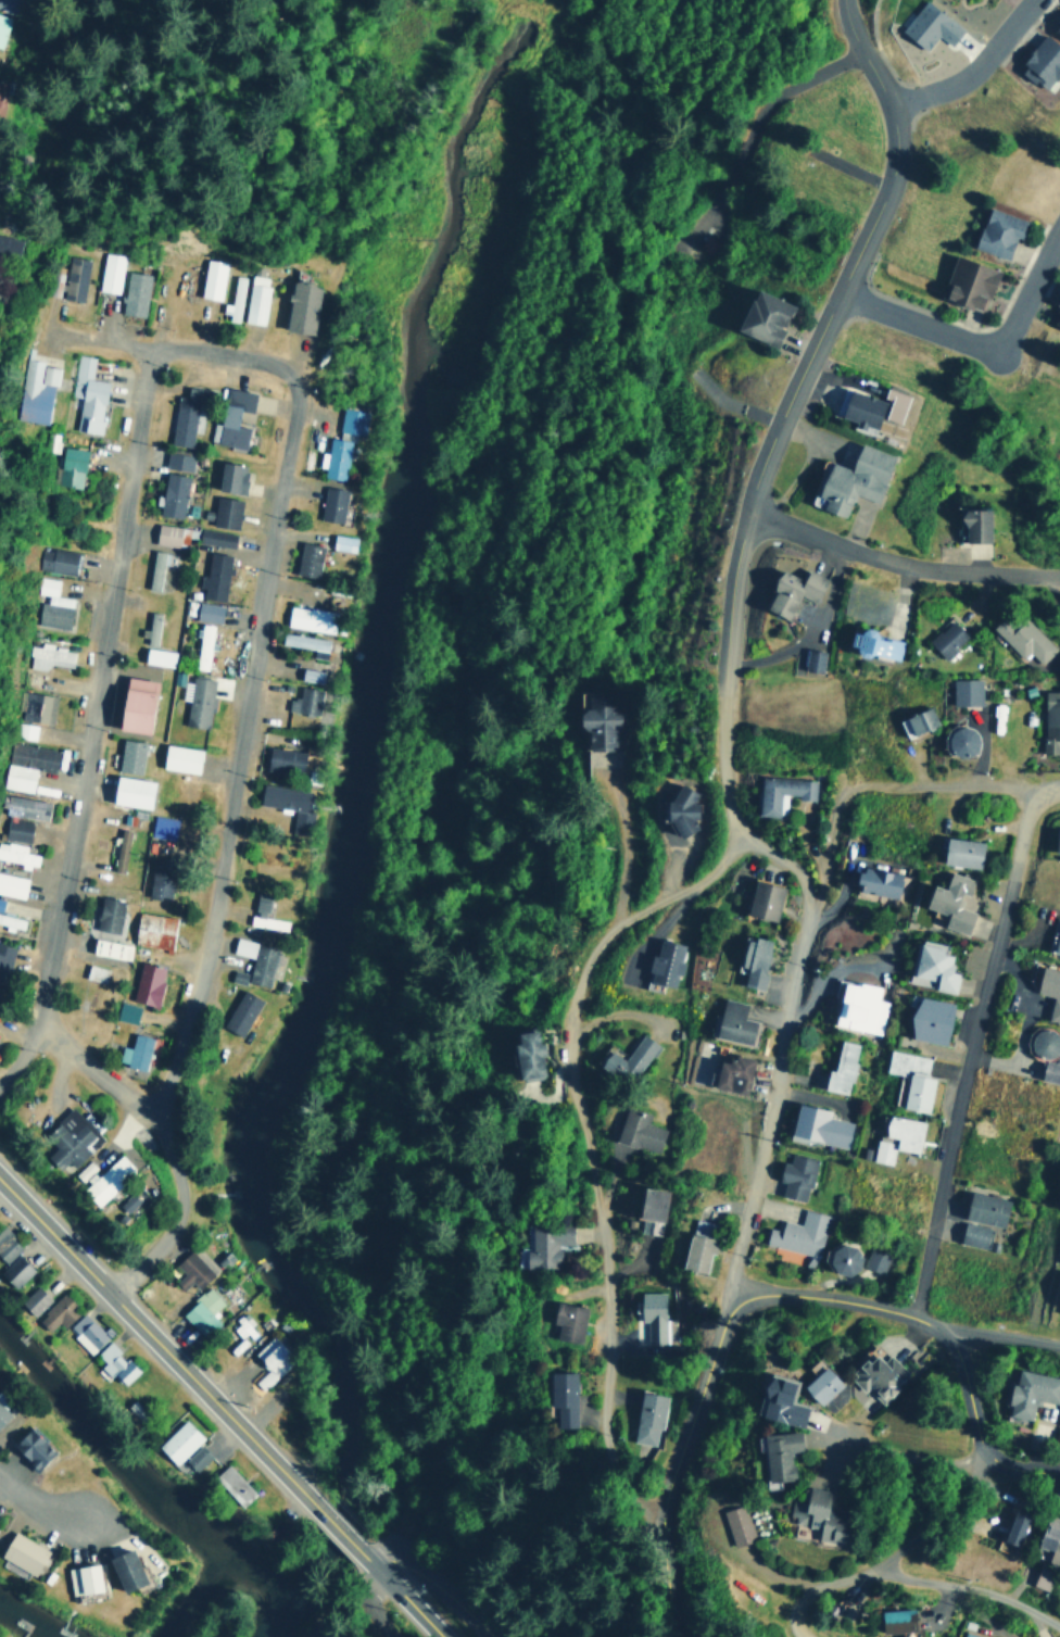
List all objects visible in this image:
building: (9, 5)
building: (1, 18)
building: (927, 24)
building: (1056, 25)
road: (873, 51)
building: (1040, 61)
road: (976, 66)
building: (996, 230)
building: (5, 243)
building: (110, 272)
building: (68, 278)
building: (212, 278)
building: (966, 281)
building: (132, 292)
building: (255, 298)
building: (234, 299)
building: (1057, 300)
building: (299, 305)
road: (836, 307)
building: (761, 316)
building: (1057, 319)
road: (979, 339)
road: (168, 353)
building: (33, 390)
building: (86, 394)
building: (868, 407)
building: (185, 415)
building: (230, 417)
building: (351, 420)
building: (336, 457)
building: (176, 459)
building: (70, 465)
building: (229, 476)
building: (850, 478)
building: (171, 494)
building: (331, 503)
building: (224, 511)
building: (973, 524)
building: (164, 533)
building: (214, 537)
building: (341, 542)
building: (306, 558)
building: (54, 559)
road: (903, 562)
building: (154, 568)
building: (213, 575)
building: (791, 590)
road: (730, 602)
building: (51, 604)
building: (206, 612)
building: (310, 617)
building: (150, 627)
building: (1022, 637)
building: (945, 638)
building: (305, 642)
building: (874, 643)
building: (202, 645)
building: (47, 655)
building: (156, 656)
building: (812, 659)
building: (310, 673)
building: (964, 691)
building: (195, 700)
building: (303, 700)
building: (132, 703)
building: (36, 706)
building: (916, 720)
building: (1050, 721)
road: (91, 723)
building: (598, 723)
building: (24, 730)
building: (958, 741)
building: (128, 754)
building: (178, 757)
building: (282, 758)
building: (24, 764)
road: (872, 786)
road: (1045, 786)
building: (129, 790)
building: (781, 792)
building: (288, 803)
building: (25, 806)
building: (679, 808)
building: (161, 826)
building: (16, 828)
building: (1056, 842)
road: (222, 845)
building: (118, 848)
building: (960, 852)
building: (17, 854)
building: (875, 881)
building: (12, 884)
building: (157, 884)
building: (762, 899)
building: (0, 901)
building: (950, 901)
building: (106, 914)
building: (263, 916)
building: (11, 920)
building: (152, 930)
building: (1053, 935)
building: (109, 947)
building: (3, 957)
building: (752, 959)
building: (255, 960)
building: (664, 961)
building: (932, 966)
building: (146, 983)
building: (1049, 990)
building: (858, 1006)
building: (124, 1011)
building: (239, 1011)
building: (929, 1019)
building: (731, 1021)
building: (1040, 1041)
building: (132, 1050)
road: (975, 1052)
building: (526, 1054)
building: (627, 1059)
building: (840, 1067)
building: (1050, 1068)
building: (731, 1071)
road: (98, 1078)
building: (908, 1079)
road: (573, 1081)
road: (762, 1101)
building: (817, 1125)
building: (638, 1130)
building: (903, 1131)
building: (65, 1138)
building: (881, 1150)
building: (794, 1175)
building: (104, 1179)
building: (1059, 1186)
building: (124, 1202)
building: (651, 1202)
building: (984, 1208)
building: (798, 1233)
building: (973, 1234)
building: (5, 1244)
building: (544, 1244)
building: (696, 1245)
building: (840, 1258)
building: (874, 1259)
building: (13, 1270)
road: (87, 1270)
building: (189, 1270)
building: (33, 1299)
road: (843, 1305)
building: (200, 1310)
building: (55, 1312)
building: (651, 1314)
building: (567, 1321)
building: (85, 1331)
road: (1006, 1336)
building: (270, 1359)
building: (113, 1362)
building: (876, 1375)
building: (818, 1382)
building: (1030, 1392)
road: (968, 1395)
building: (560, 1396)
building: (778, 1402)
building: (2, 1412)
building: (647, 1416)
road: (248, 1434)
building: (177, 1441)
building: (30, 1448)
building: (194, 1457)
road: (918, 1458)
road: (673, 1460)
road: (1022, 1461)
building: (231, 1484)
road: (36, 1507)
building: (817, 1513)
building: (736, 1524)
building: (1013, 1525)
road: (341, 1531)
building: (1050, 1538)
building: (21, 1551)
road: (883, 1556)
building: (124, 1570)
building: (1040, 1577)
building: (81, 1578)
road: (434, 1581)
road: (970, 1589)
road: (403, 1595)
road: (374, 1607)
building: (895, 1620)
building: (970, 1635)

